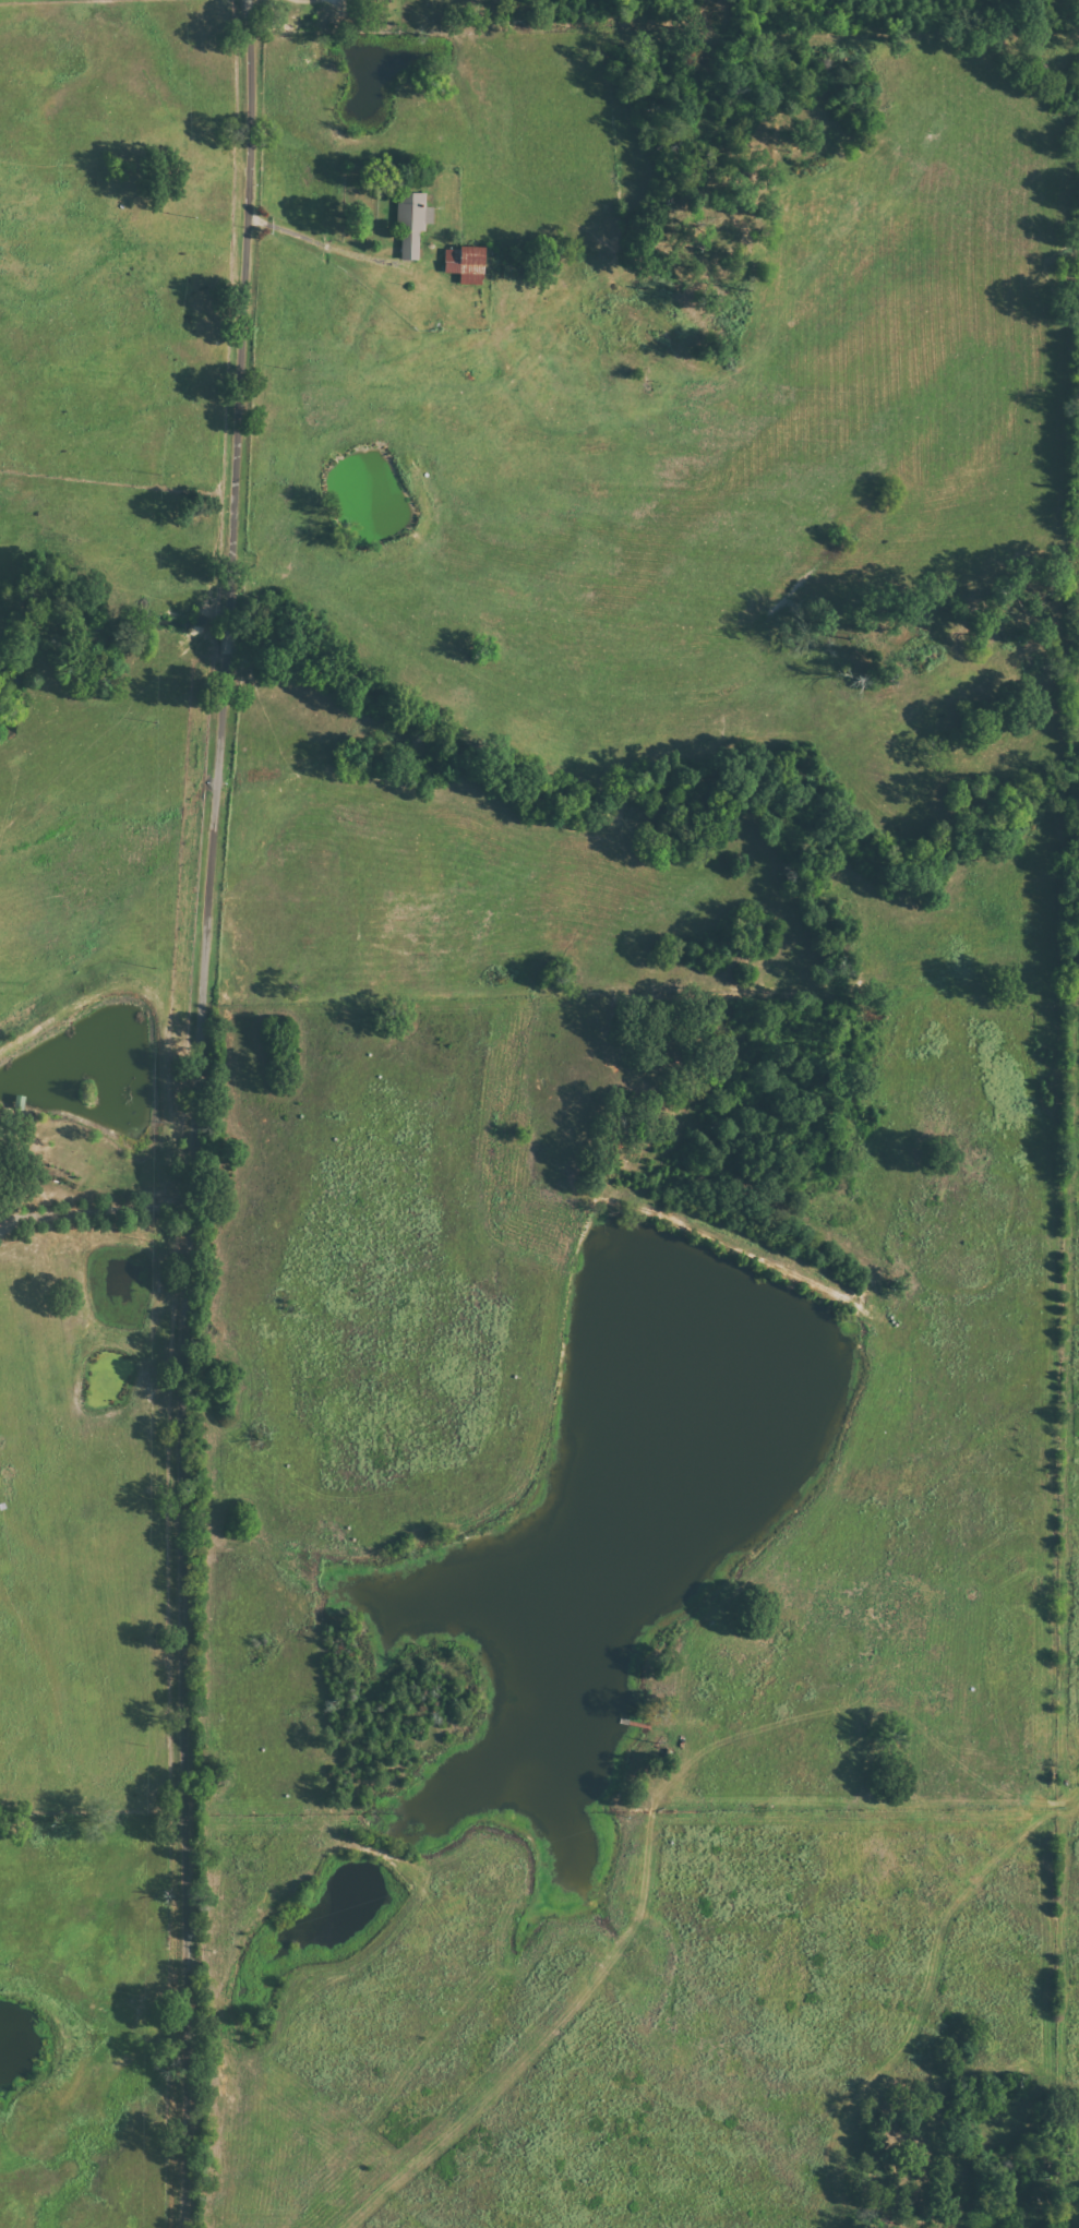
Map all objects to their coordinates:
building: (411, 224)
building: (463, 264)
road: (195, 1113)
road: (93, 1217)

